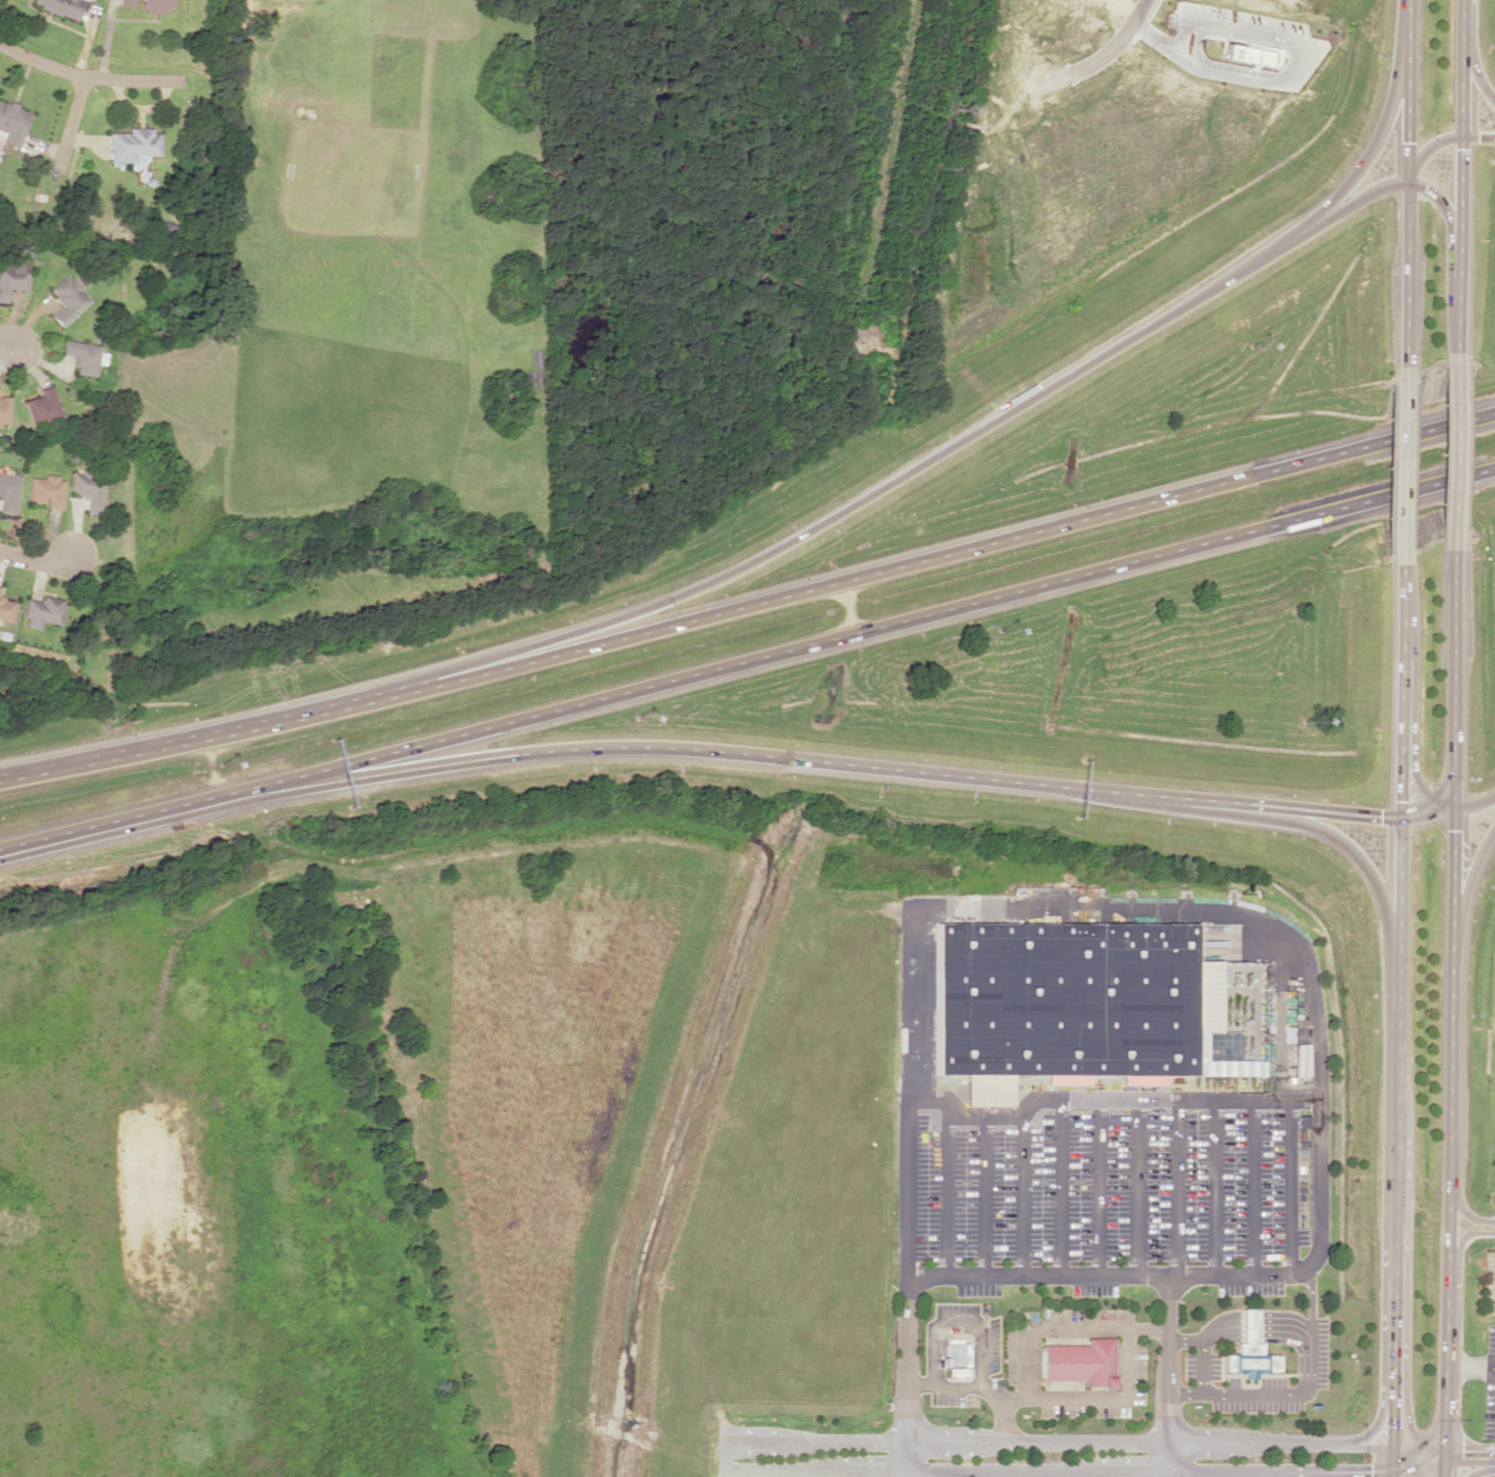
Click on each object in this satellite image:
building: (127, 2)
building: (155, 6)
building: (62, 7)
road: (1150, 36)
road: (201, 38)
road: (1114, 45)
building: (1252, 55)
road: (1293, 56)
road: (1472, 60)
road: (1460, 68)
road: (95, 75)
building: (12, 122)
road: (73, 122)
road: (1377, 134)
traffic signals: (1460, 138)
road: (1438, 140)
building: (132, 145)
road: (1404, 181)
traffic signals: (1404, 182)
road: (1457, 250)
building: (13, 278)
building: (67, 299)
road: (9, 340)
building: (84, 355)
building: (42, 406)
building: (4, 409)
road: (1455, 449)
road: (1400, 457)
road: (912, 466)
building: (88, 489)
building: (46, 490)
building: (8, 492)
road: (36, 558)
building: (0, 586)
road: (749, 603)
building: (6, 609)
building: (42, 611)
road: (747, 661)
road: (859, 764)
road: (1428, 795)
traffic signals: (1451, 807)
traffic signals: (1396, 816)
road: (1336, 839)
road: (1464, 883)
road: (1166, 906)
building: (1063, 997)
road: (1447, 1006)
road: (1394, 1013)
road: (1106, 1098)
road: (1461, 1212)
road: (1490, 1225)
road: (1461, 1234)
road: (1037, 1275)
building: (1249, 1351)
building: (956, 1358)
building: (1079, 1362)
road: (1172, 1442)
traffic signals: (1440, 1452)
road: (1467, 1452)
road: (903, 1456)
road: (1167, 1459)
road: (1479, 1469)
road: (978, 1470)
road: (1264, 1474)

